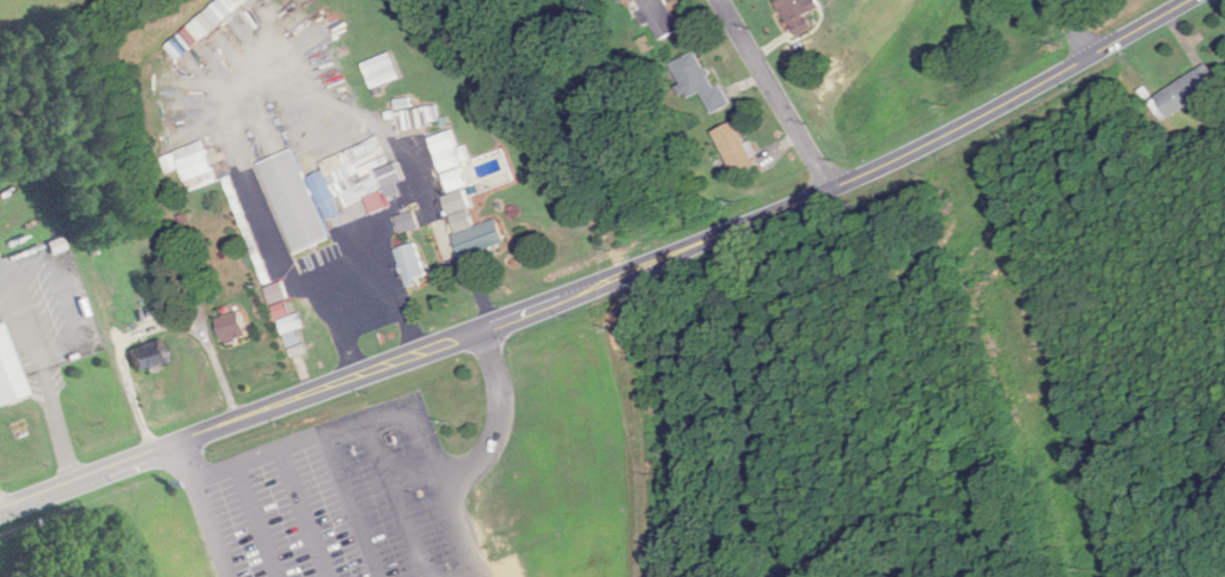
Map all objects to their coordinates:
building: (624, 1)
building: (234, 5)
building: (800, 14)
building: (660, 17)
road: (1136, 27)
road: (1075, 29)
building: (385, 76)
road: (264, 80)
building: (700, 81)
building: (1187, 91)
road: (776, 93)
road: (962, 124)
building: (736, 147)
building: (193, 165)
building: (358, 178)
building: (464, 201)
building: (295, 202)
building: (408, 222)
road: (682, 246)
building: (412, 264)
road: (388, 300)
road: (152, 327)
building: (233, 327)
building: (150, 355)
building: (8, 372)
road: (397, 403)
road: (266, 405)
road: (498, 411)
road: (56, 416)
road: (187, 459)
road: (397, 496)
road: (352, 504)
road: (306, 511)
road: (262, 520)
road: (213, 528)
road: (479, 572)

